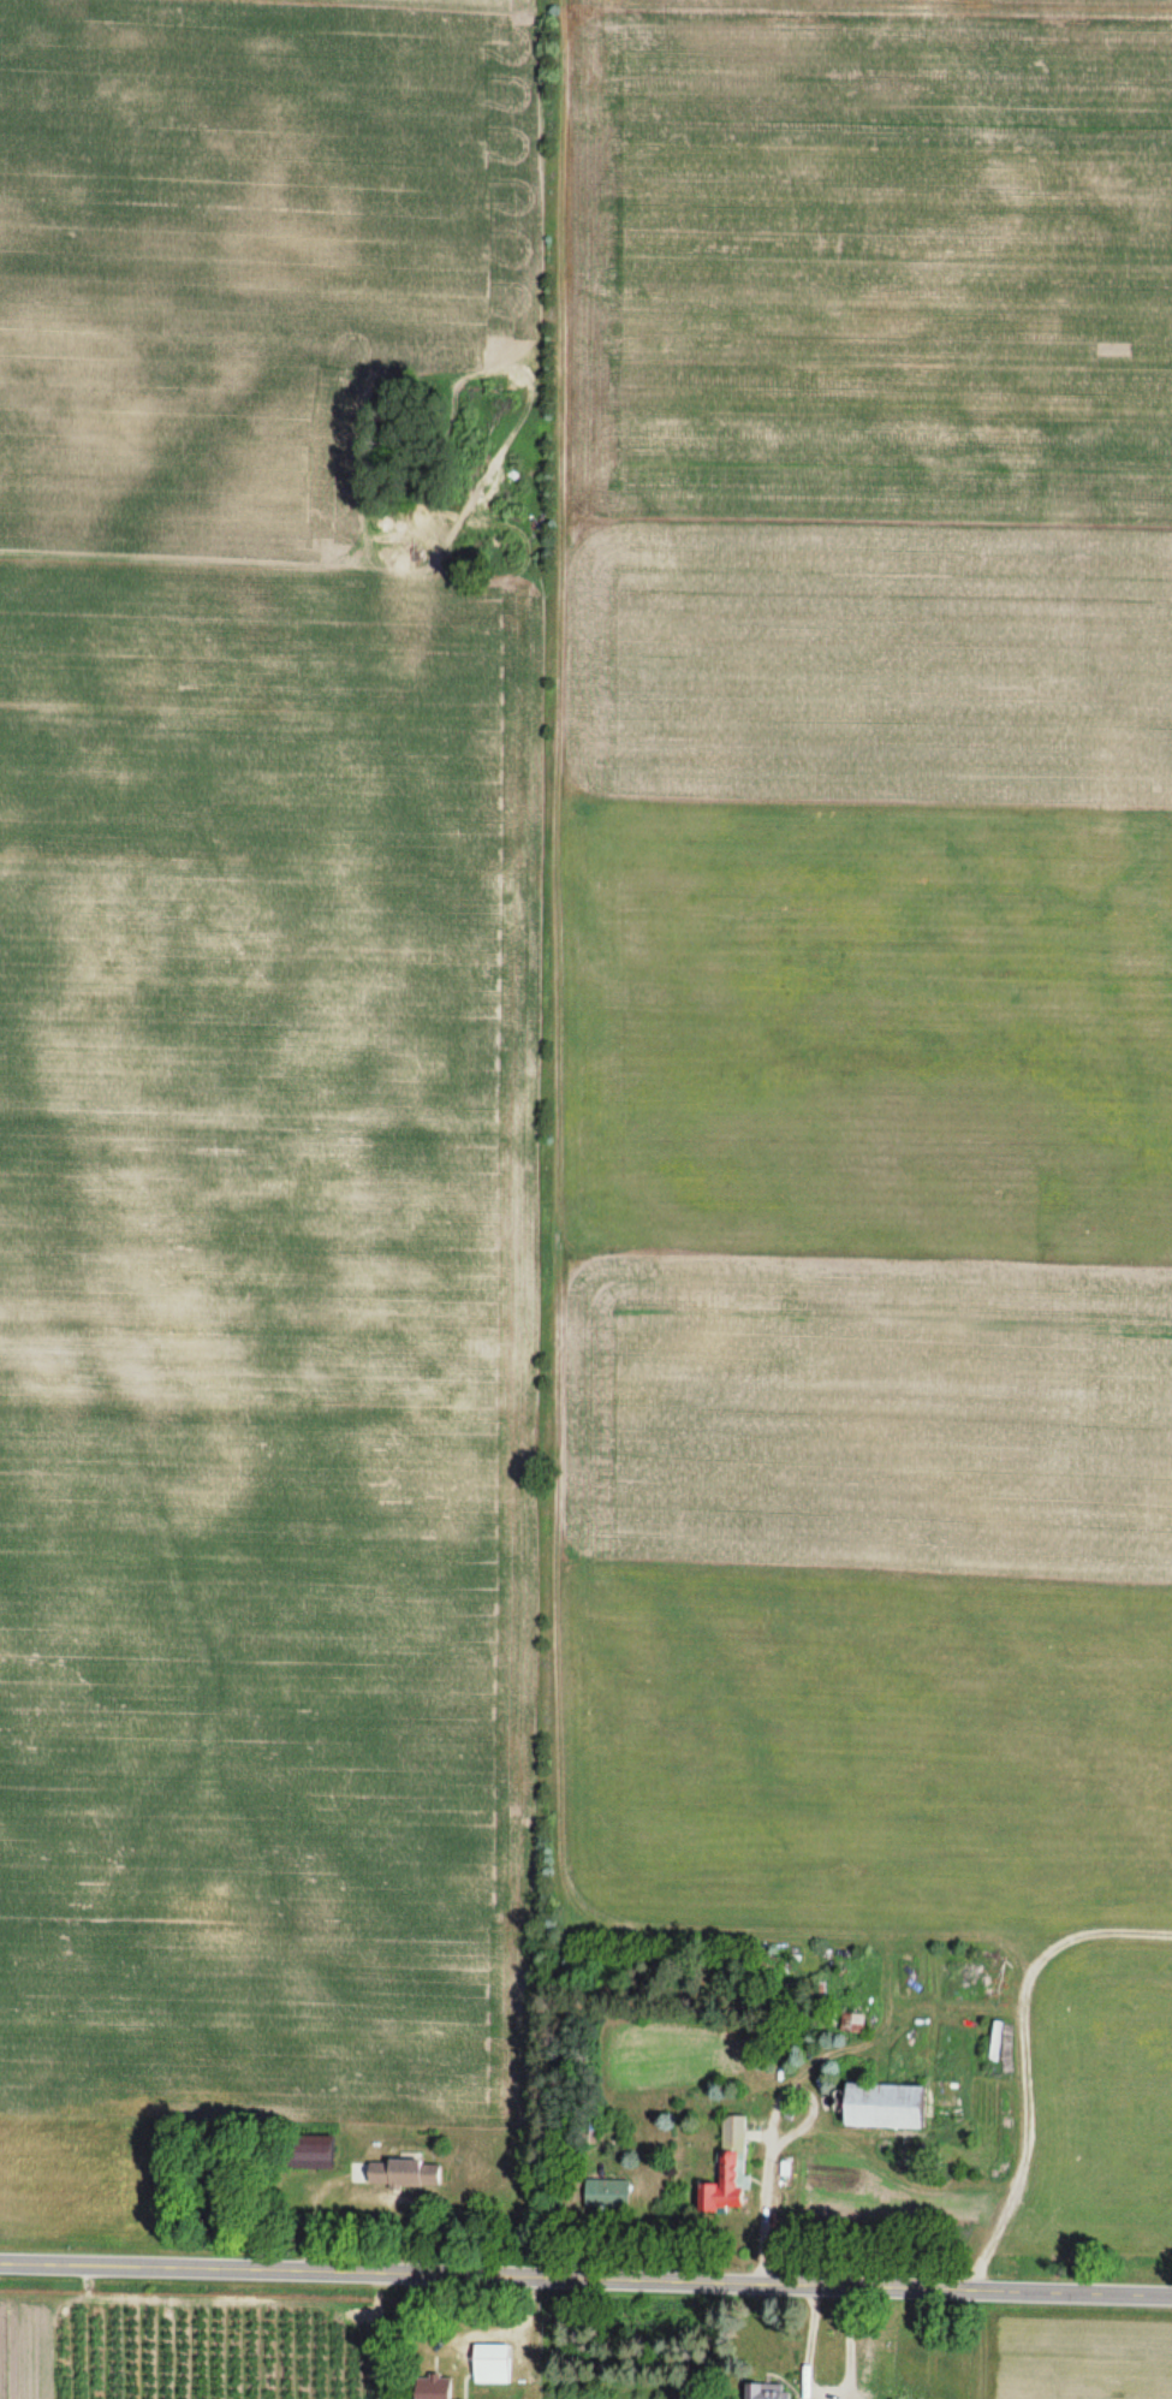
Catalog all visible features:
building: (885, 2104)
building: (310, 2154)
building: (726, 2168)
building: (394, 2173)
building: (606, 2193)
road: (585, 2280)
building: (490, 2362)
building: (433, 2386)
building: (767, 2393)

